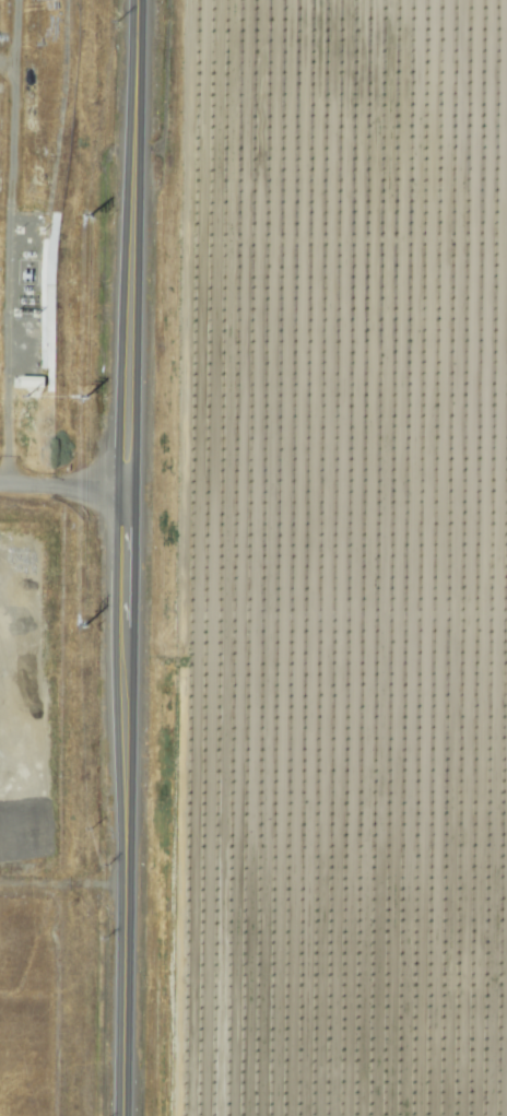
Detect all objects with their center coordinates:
road: (63, 480)
road: (126, 557)
road: (27, 807)

